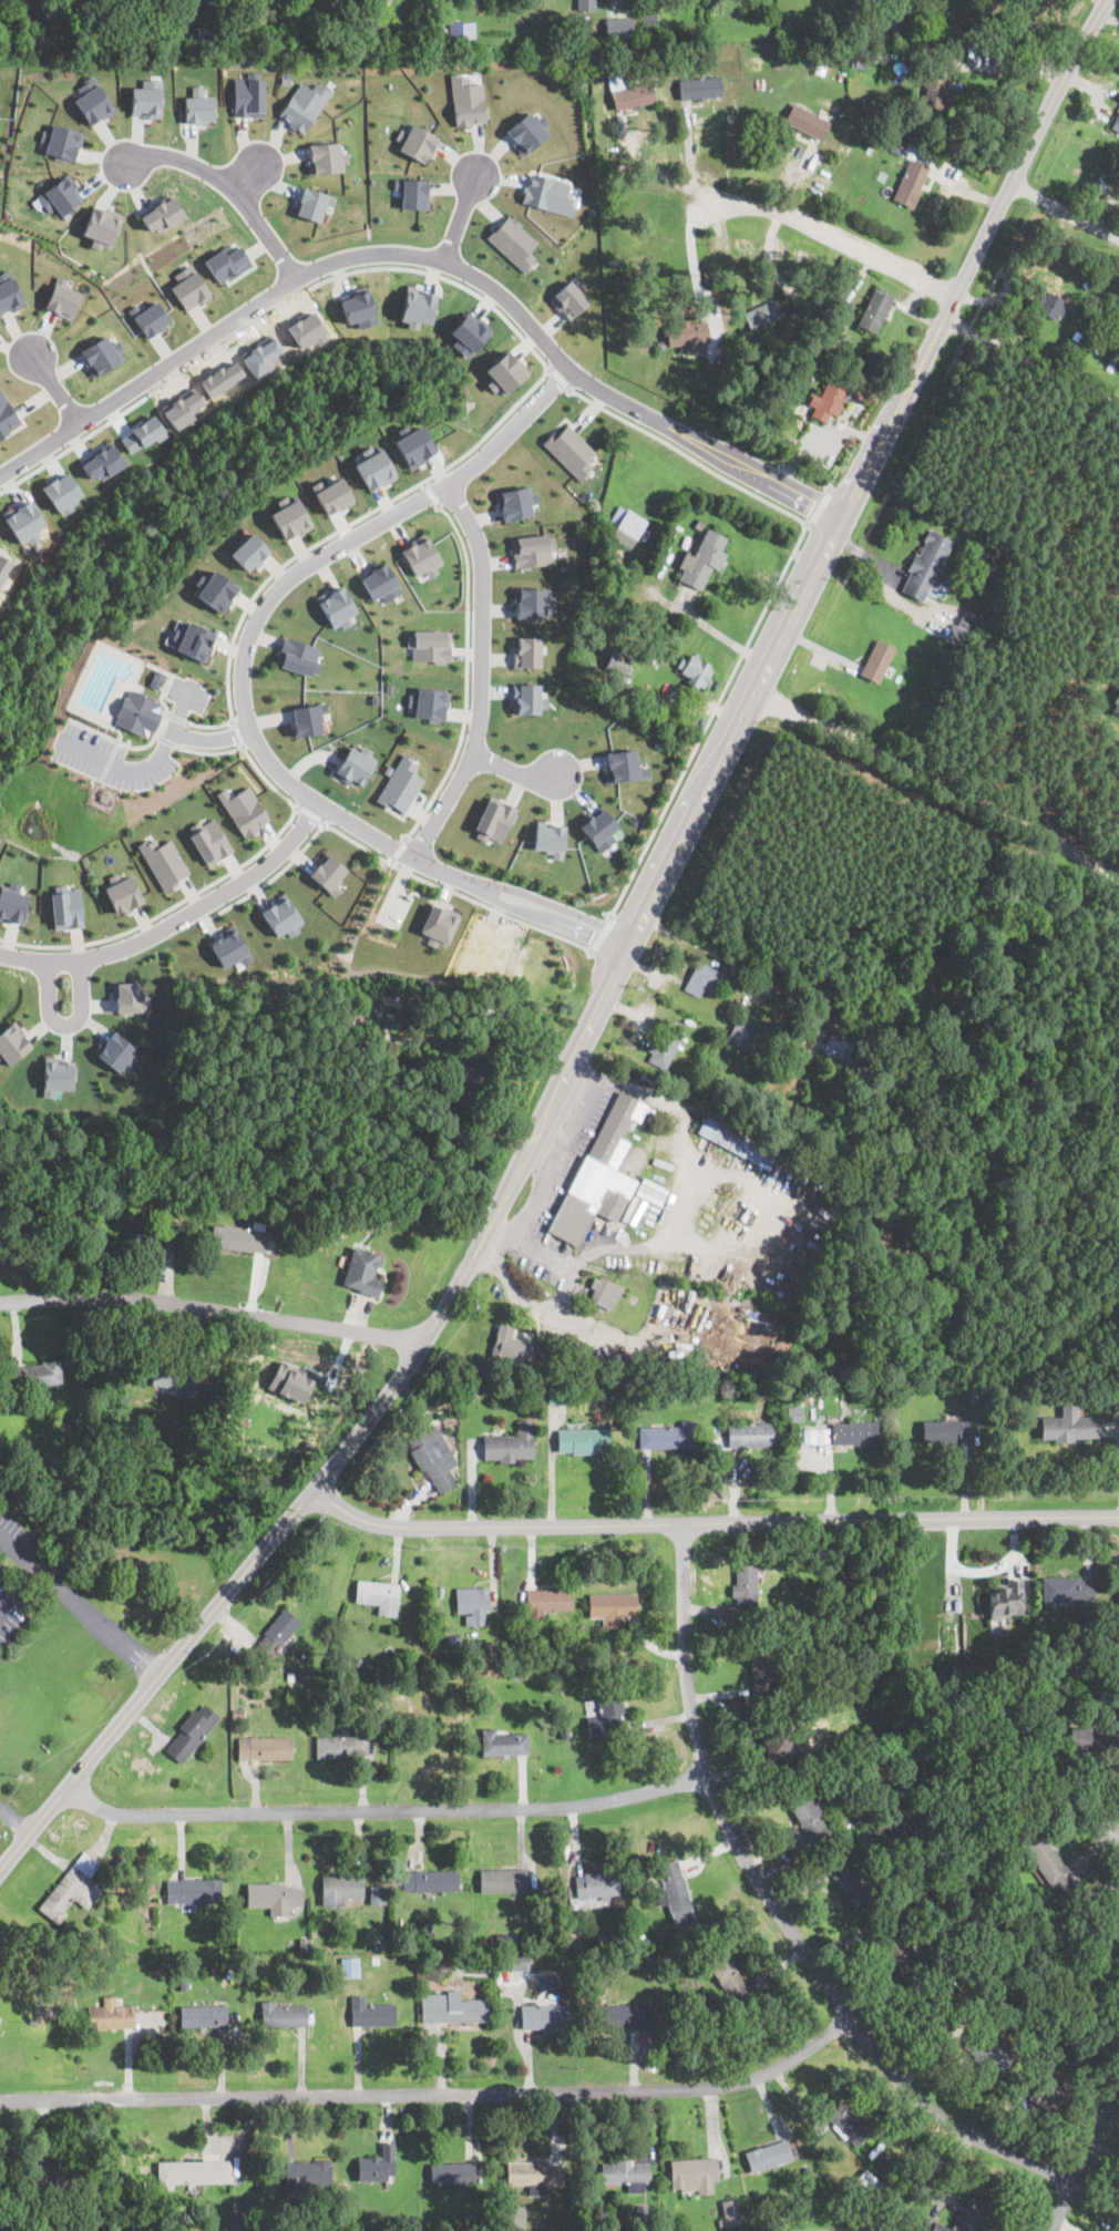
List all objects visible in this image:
building: (382, 0)
building: (586, 4)
building: (1035, 4)
building: (140, 6)
building: (897, 17)
building: (650, 18)
building: (281, 20)
building: (864, 24)
building: (988, 24)
building: (418, 28)
building: (462, 28)
building: (618, 28)
building: (1003, 28)
building: (437, 30)
building: (940, 30)
building: (649, 34)
building: (205, 35)
building: (90, 38)
building: (254, 41)
building: (685, 47)
building: (616, 48)
building: (641, 48)
building: (858, 56)
building: (937, 81)
building: (700, 89)
building: (247, 93)
building: (634, 96)
building: (147, 97)
building: (466, 100)
building: (92, 101)
building: (305, 104)
building: (198, 106)
building: (807, 123)
building: (1116, 123)
building: (525, 132)
building: (62, 141)
building: (414, 142)
building: (325, 156)
road: (653, 167)
road: (248, 177)
building: (1103, 177)
building: (911, 183)
road: (233, 188)
building: (412, 192)
building: (547, 193)
building: (61, 195)
building: (312, 203)
road: (1065, 207)
building: (160, 213)
road: (460, 218)
building: (101, 226)
road: (827, 234)
building: (513, 241)
road: (430, 255)
building: (227, 260)
building: (189, 287)
building: (9, 291)
building: (62, 297)
building: (568, 297)
road: (483, 299)
building: (1050, 305)
building: (357, 306)
building: (417, 306)
building: (874, 309)
building: (768, 312)
building: (150, 317)
building: (466, 333)
building: (688, 333)
building: (831, 338)
building: (661, 343)
building: (102, 354)
road: (1031, 357)
building: (1115, 358)
building: (1070, 362)
building: (1110, 367)
road: (547, 369)
building: (504, 371)
road: (561, 379)
road: (54, 387)
building: (828, 400)
building: (6, 414)
building: (142, 432)
road: (73, 444)
building: (412, 444)
building: (569, 452)
building: (101, 461)
building: (373, 466)
road: (424, 484)
building: (61, 491)
building: (331, 492)
road: (432, 494)
building: (513, 502)
building: (289, 515)
building: (22, 521)
building: (625, 527)
road: (309, 547)
building: (531, 548)
building: (248, 551)
building: (421, 556)
building: (701, 559)
building: (928, 564)
building: (379, 580)
building: (214, 589)
building: (531, 602)
road: (770, 602)
building: (336, 606)
road: (720, 636)
building: (189, 638)
building: (1117, 638)
building: (430, 644)
building: (526, 650)
building: (298, 655)
building: (876, 659)
building: (616, 662)
building: (694, 669)
road: (481, 674)
road: (767, 674)
road: (468, 677)
building: (156, 678)
road: (243, 691)
building: (526, 698)
building: (1116, 699)
building: (428, 702)
building: (138, 711)
building: (306, 718)
road: (209, 723)
road: (238, 734)
road: (211, 737)
road: (246, 751)
road: (145, 762)
building: (356, 763)
building: (623, 764)
road: (516, 771)
road: (941, 777)
building: (400, 783)
building: (243, 808)
road: (311, 813)
building: (493, 819)
building: (597, 825)
building: (548, 836)
building: (207, 839)
road: (1108, 844)
road: (400, 851)
road: (384, 859)
building: (163, 861)
building: (328, 873)
building: (121, 892)
building: (12, 904)
building: (65, 907)
road: (164, 909)
building: (281, 914)
road: (177, 919)
building: (438, 924)
road: (602, 935)
building: (227, 945)
road: (705, 947)
building: (702, 978)
road: (674, 989)
building: (130, 996)
building: (392, 997)
road: (66, 1025)
building: (741, 1035)
building: (11, 1042)
building: (666, 1042)
building: (841, 1049)
building: (115, 1050)
building: (57, 1075)
building: (462, 1075)
building: (730, 1140)
road: (706, 1165)
building: (600, 1170)
building: (153, 1228)
building: (240, 1235)
building: (361, 1272)
building: (604, 1293)
road: (562, 1294)
road: (211, 1307)
building: (510, 1346)
building: (42, 1372)
building: (171, 1377)
building: (290, 1380)
building: (561, 1391)
building: (793, 1412)
building: (1069, 1425)
building: (945, 1430)
building: (849, 1431)
building: (752, 1435)
building: (815, 1435)
building: (668, 1438)
building: (583, 1440)
building: (510, 1445)
building: (433, 1458)
road: (712, 1521)
building: (745, 1584)
road: (19, 1590)
building: (1068, 1590)
building: (1118, 1592)
building: (378, 1594)
building: (1006, 1598)
building: (471, 1600)
building: (548, 1600)
road: (80, 1605)
road: (215, 1608)
building: (613, 1608)
building: (277, 1631)
building: (761, 1670)
building: (606, 1717)
building: (191, 1734)
building: (1094, 1736)
building: (505, 1741)
building: (776, 1742)
building: (341, 1746)
building: (264, 1747)
road: (388, 1807)
building: (809, 1814)
road: (16, 1818)
building: (899, 1827)
road: (1112, 1830)
building: (1049, 1863)
building: (846, 1879)
building: (430, 1880)
building: (503, 1880)
building: (596, 1884)
building: (71, 1889)
building: (340, 1889)
building: (675, 1889)
building: (195, 1891)
building: (377, 1893)
building: (274, 1896)
road: (780, 1911)
building: (900, 1952)
building: (519, 1960)
building: (727, 1976)
building: (0, 2007)
building: (453, 2007)
building: (372, 2013)
building: (110, 2014)
building: (203, 2015)
building: (284, 2015)
building: (545, 2015)
building: (625, 2015)
building: (994, 2052)
building: (1048, 2087)
road: (433, 2093)
building: (848, 2121)
road: (1084, 2153)
building: (768, 2155)
building: (376, 2163)
building: (197, 2171)
building: (450, 2171)
building: (66, 2172)
building: (624, 2172)
building: (535, 2173)
building: (692, 2175)
building: (307, 2176)
building: (866, 2183)
building: (729, 2210)
building: (514, 2214)
building: (237, 2220)
building: (966, 2220)

